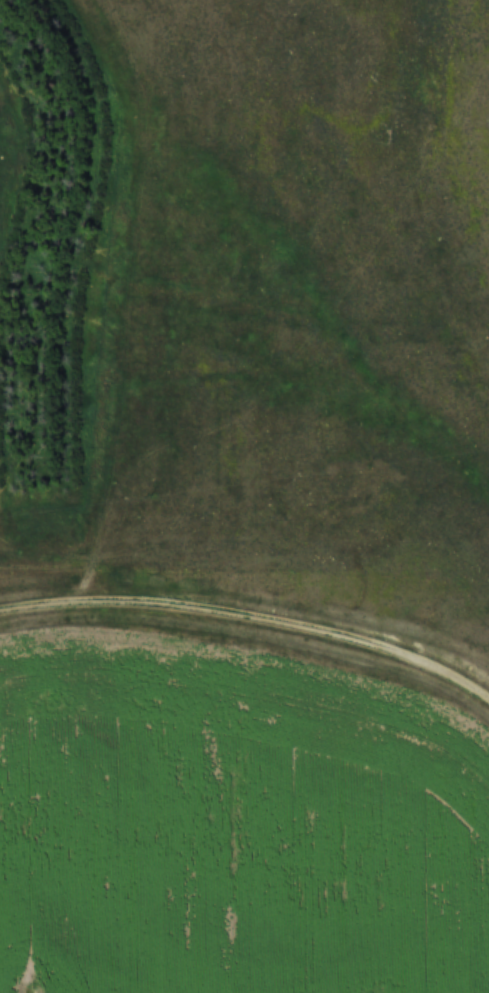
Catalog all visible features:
road: (252, 620)

